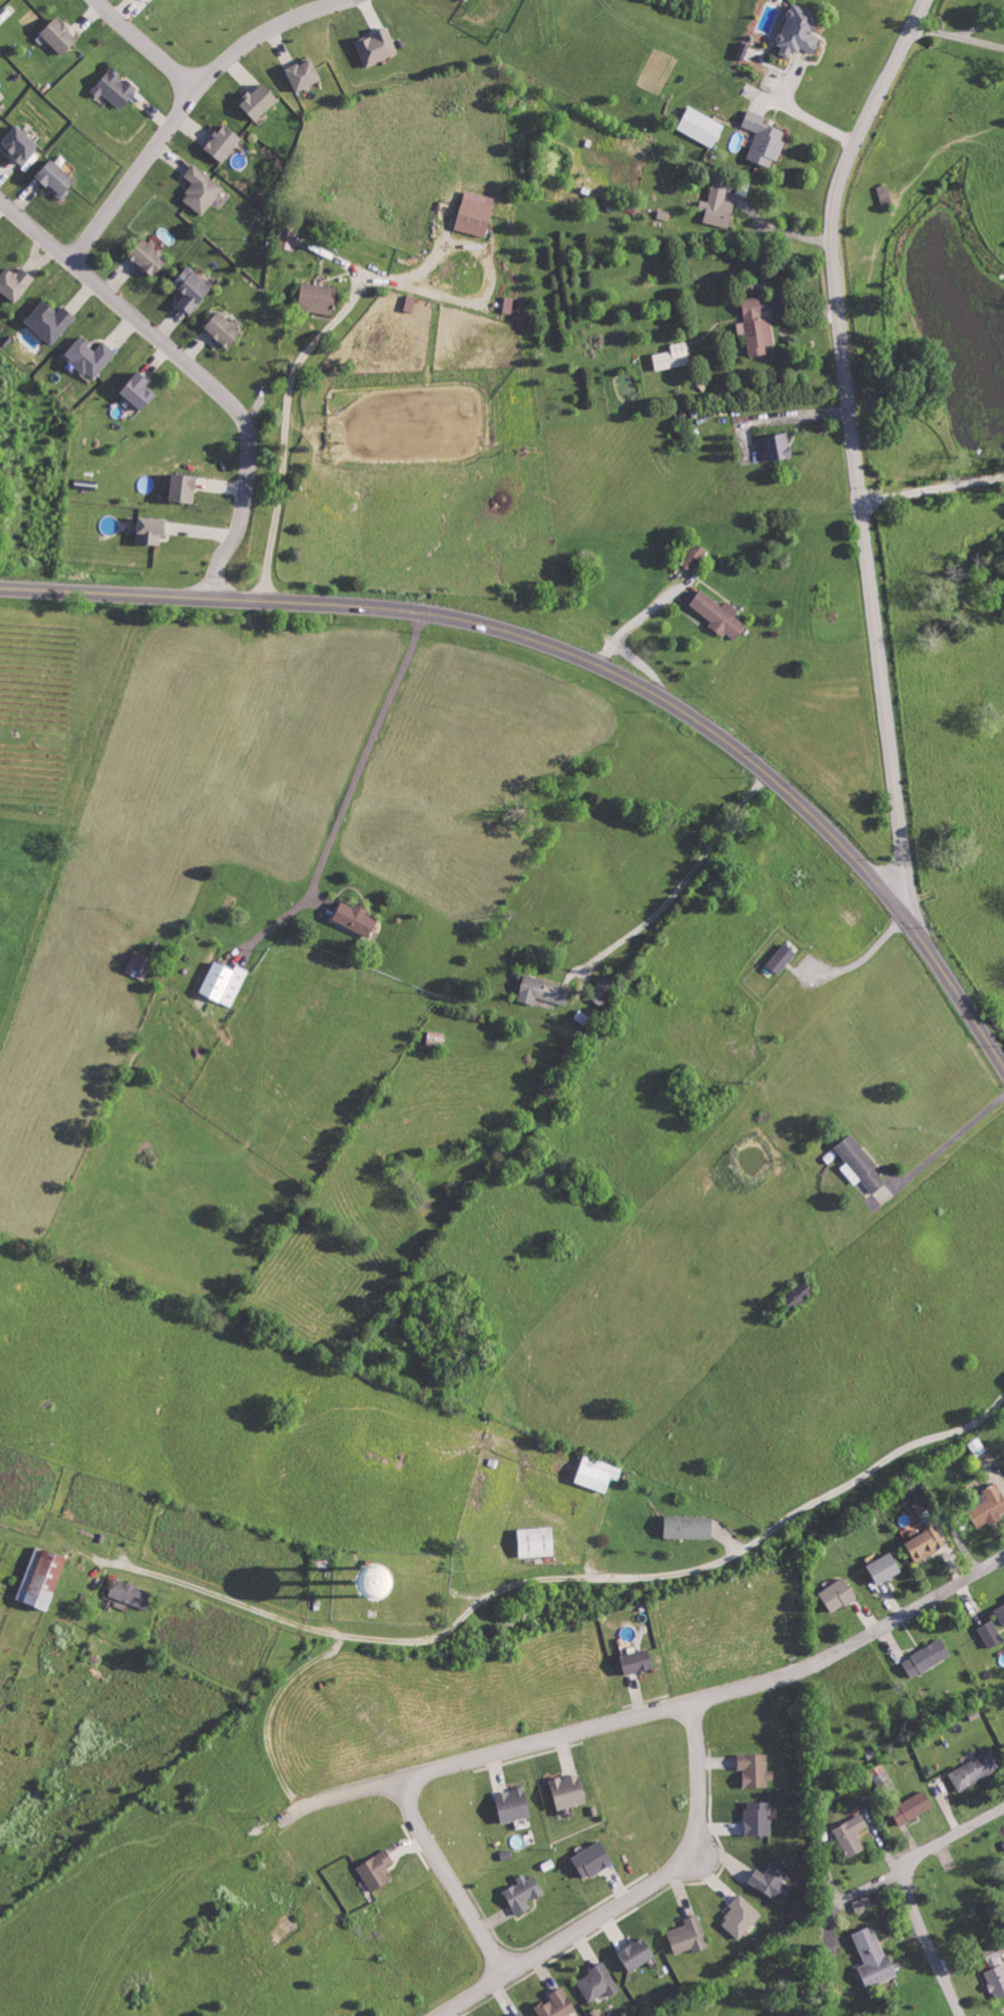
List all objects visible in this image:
building: (800, 30)
building: (60, 34)
road: (957, 36)
road: (145, 44)
building: (377, 46)
building: (305, 72)
building: (115, 87)
building: (260, 100)
road: (181, 104)
building: (2, 105)
building: (701, 126)
building: (764, 139)
building: (224, 141)
building: (20, 143)
building: (58, 177)
building: (202, 188)
building: (885, 193)
building: (719, 200)
building: (476, 213)
building: (291, 237)
building: (150, 256)
building: (16, 281)
building: (192, 288)
building: (319, 297)
building: (410, 302)
building: (509, 304)
building: (51, 320)
building: (756, 326)
building: (225, 328)
building: (91, 355)
building: (672, 356)
road: (195, 369)
building: (140, 390)
road: (285, 427)
building: (779, 446)
road: (854, 454)
building: (185, 487)
road: (932, 488)
building: (152, 530)
building: (694, 556)
building: (720, 614)
road: (585, 660)
road: (355, 786)
road: (683, 885)
building: (356, 918)
building: (782, 957)
building: (139, 965)
building: (224, 982)
building: (543, 990)
building: (603, 990)
building: (860, 1163)
building: (598, 1473)
building: (990, 1506)
building: (689, 1526)
building: (538, 1541)
building: (886, 1567)
building: (43, 1576)
building: (393, 1576)
road: (566, 1578)
building: (131, 1593)
building: (839, 1593)
building: (1000, 1612)
building: (991, 1633)
building: (927, 1657)
building: (639, 1660)
road: (274, 1710)
road: (653, 1710)
building: (756, 1769)
building: (976, 1769)
building: (880, 1773)
building: (570, 1790)
building: (514, 1804)
building: (913, 1806)
building: (759, 1817)
building: (852, 1834)
building: (594, 1858)
building: (377, 1870)
building: (772, 1881)
road: (906, 1890)
building: (524, 1892)
building: (742, 1916)
road: (571, 1928)
building: (690, 1935)
building: (638, 1953)
building: (874, 1956)
building: (996, 1970)
building: (598, 1982)
road: (469, 1992)
building: (557, 2004)
building: (521, 2014)

